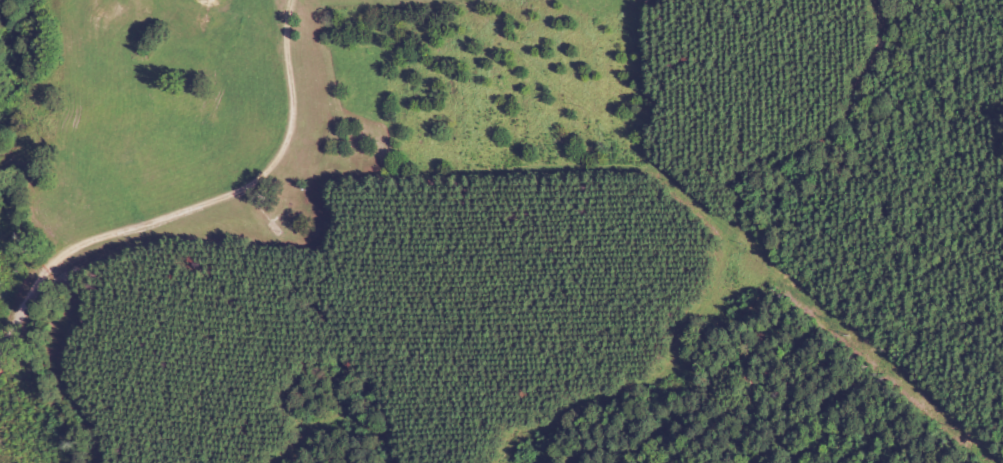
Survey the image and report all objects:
road: (194, 201)

